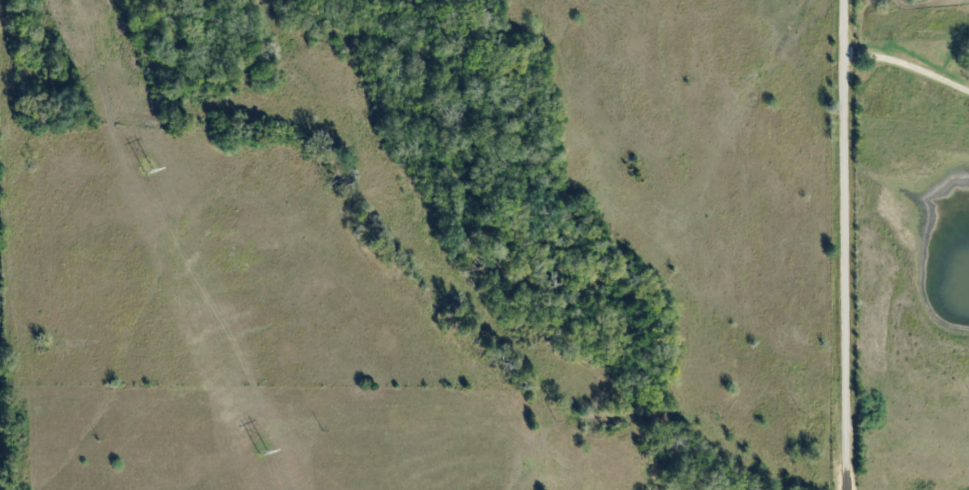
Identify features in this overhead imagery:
road: (908, 52)
power tower: (146, 172)
road: (849, 244)
power tower: (262, 451)

